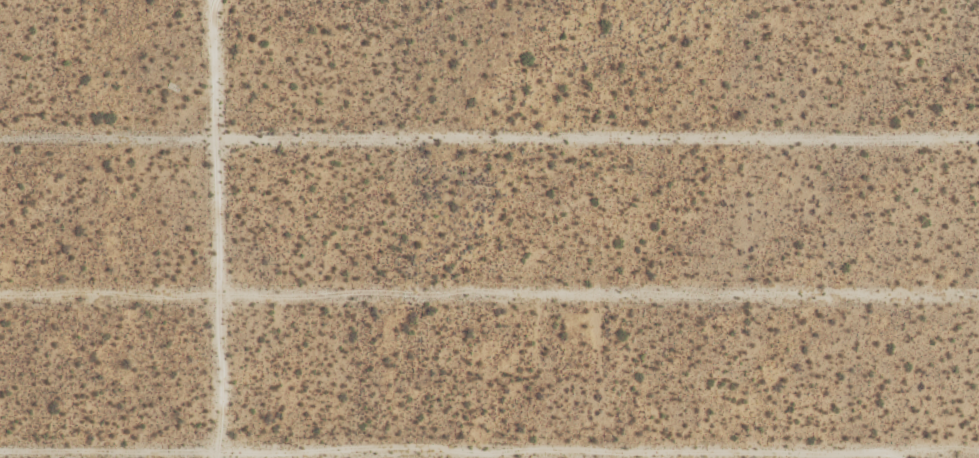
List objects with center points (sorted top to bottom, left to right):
road: (489, 139)
road: (218, 229)
road: (489, 295)
road: (489, 456)
road: (66, 457)

